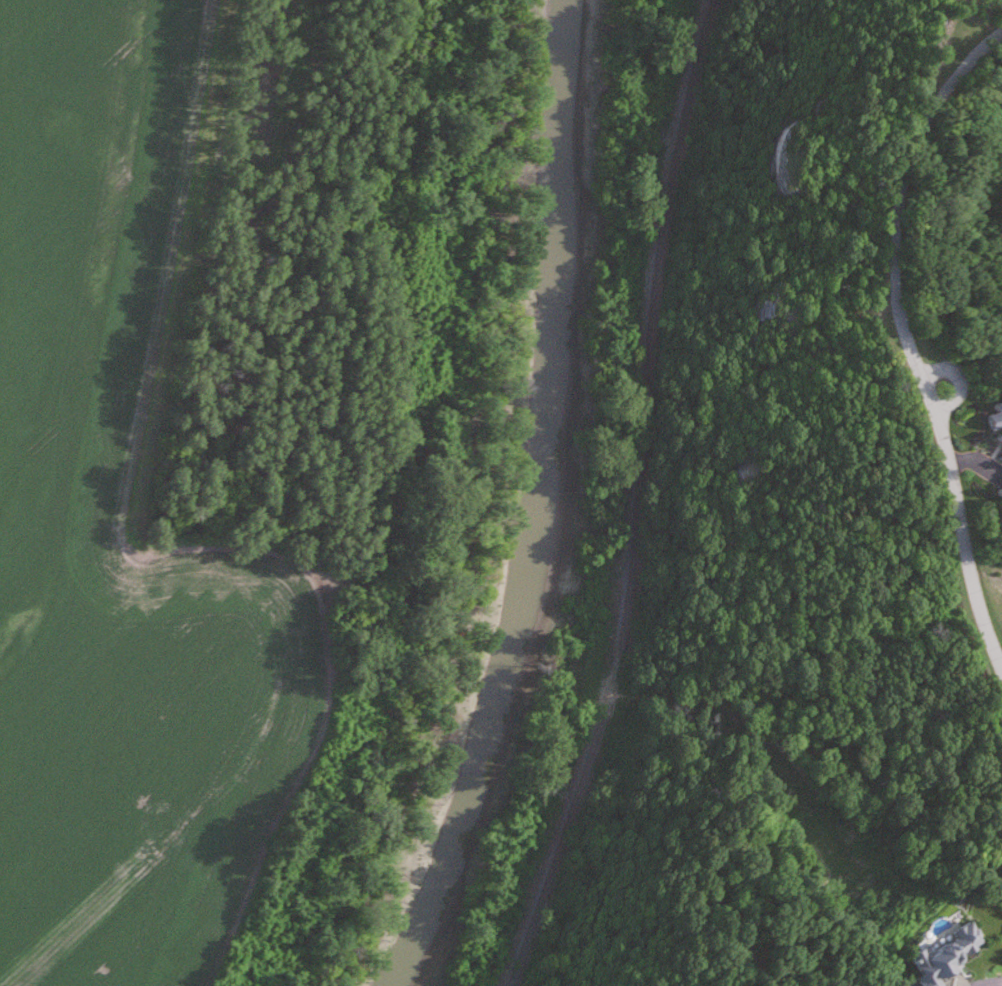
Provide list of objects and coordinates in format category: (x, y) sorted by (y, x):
road: (908, 342)
building: (996, 417)
railway: (636, 499)
crop: (122, 539)
building: (947, 957)

